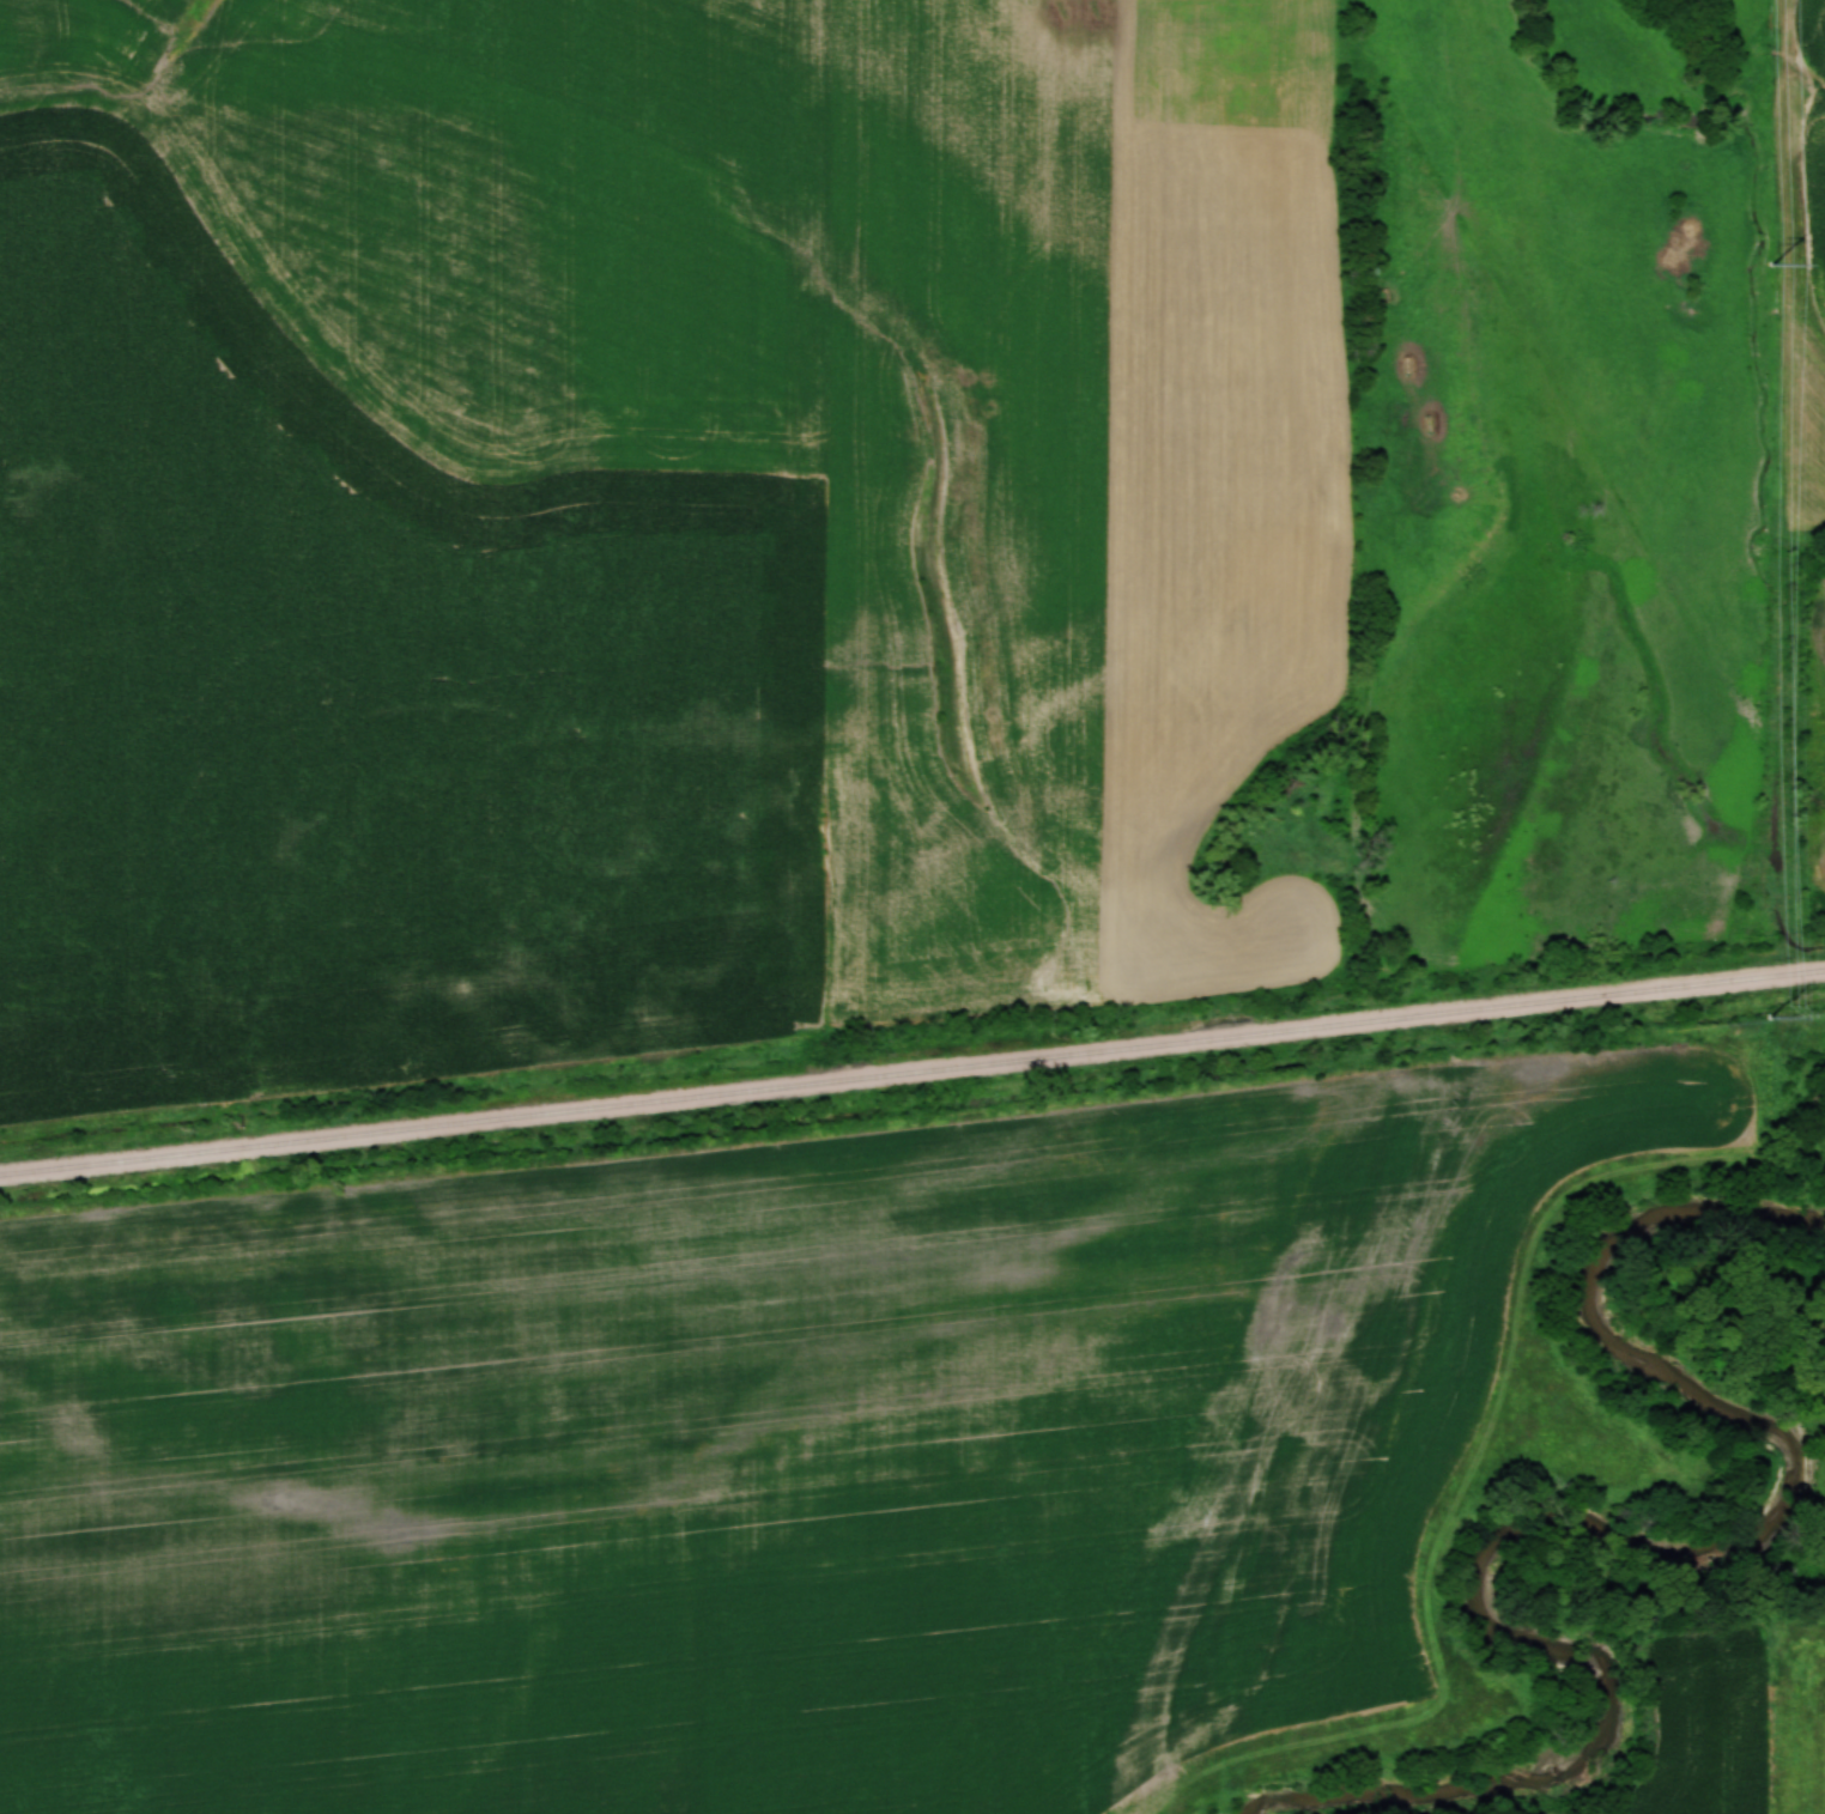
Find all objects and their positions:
power tower: (1770, 262)
power tower: (1768, 1018)
railway: (912, 1070)
river: (1619, 1529)

